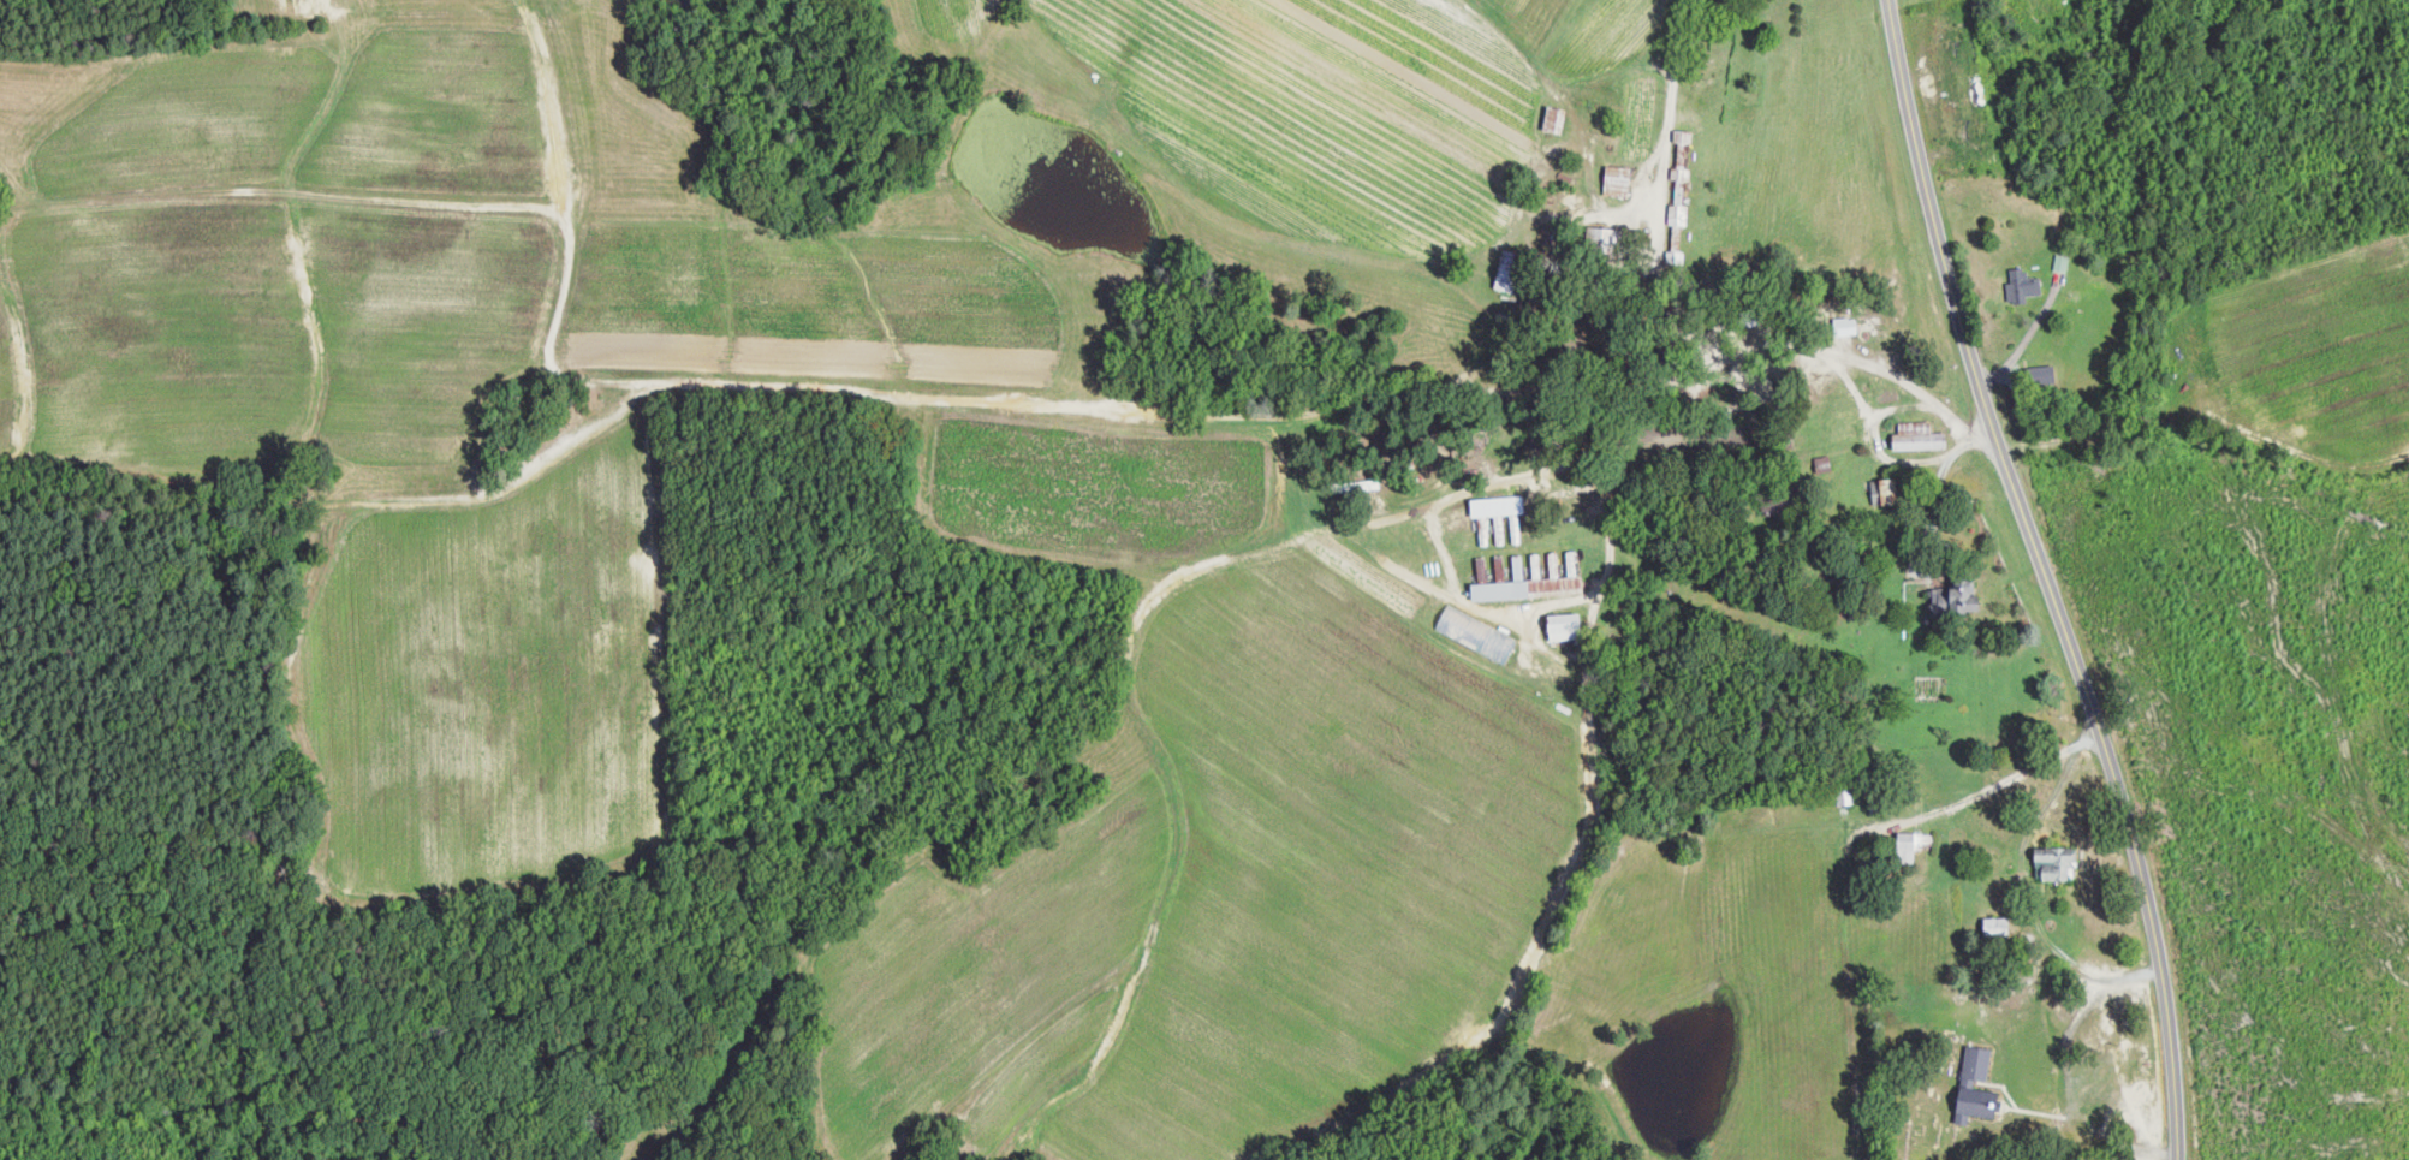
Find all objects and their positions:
building: (1557, 117)
building: (1619, 179)
building: (1681, 195)
building: (2062, 261)
building: (1510, 269)
building: (2024, 284)
road: (1699, 309)
building: (1916, 434)
building: (1887, 490)
road: (1935, 495)
building: (1501, 505)
building: (1519, 566)
building: (1503, 567)
road: (2042, 575)
building: (1531, 585)
building: (1957, 595)
building: (1569, 625)
building: (1477, 635)
road: (2000, 780)
building: (1916, 843)
building: (2058, 862)
building: (1998, 926)
building: (1970, 1083)

